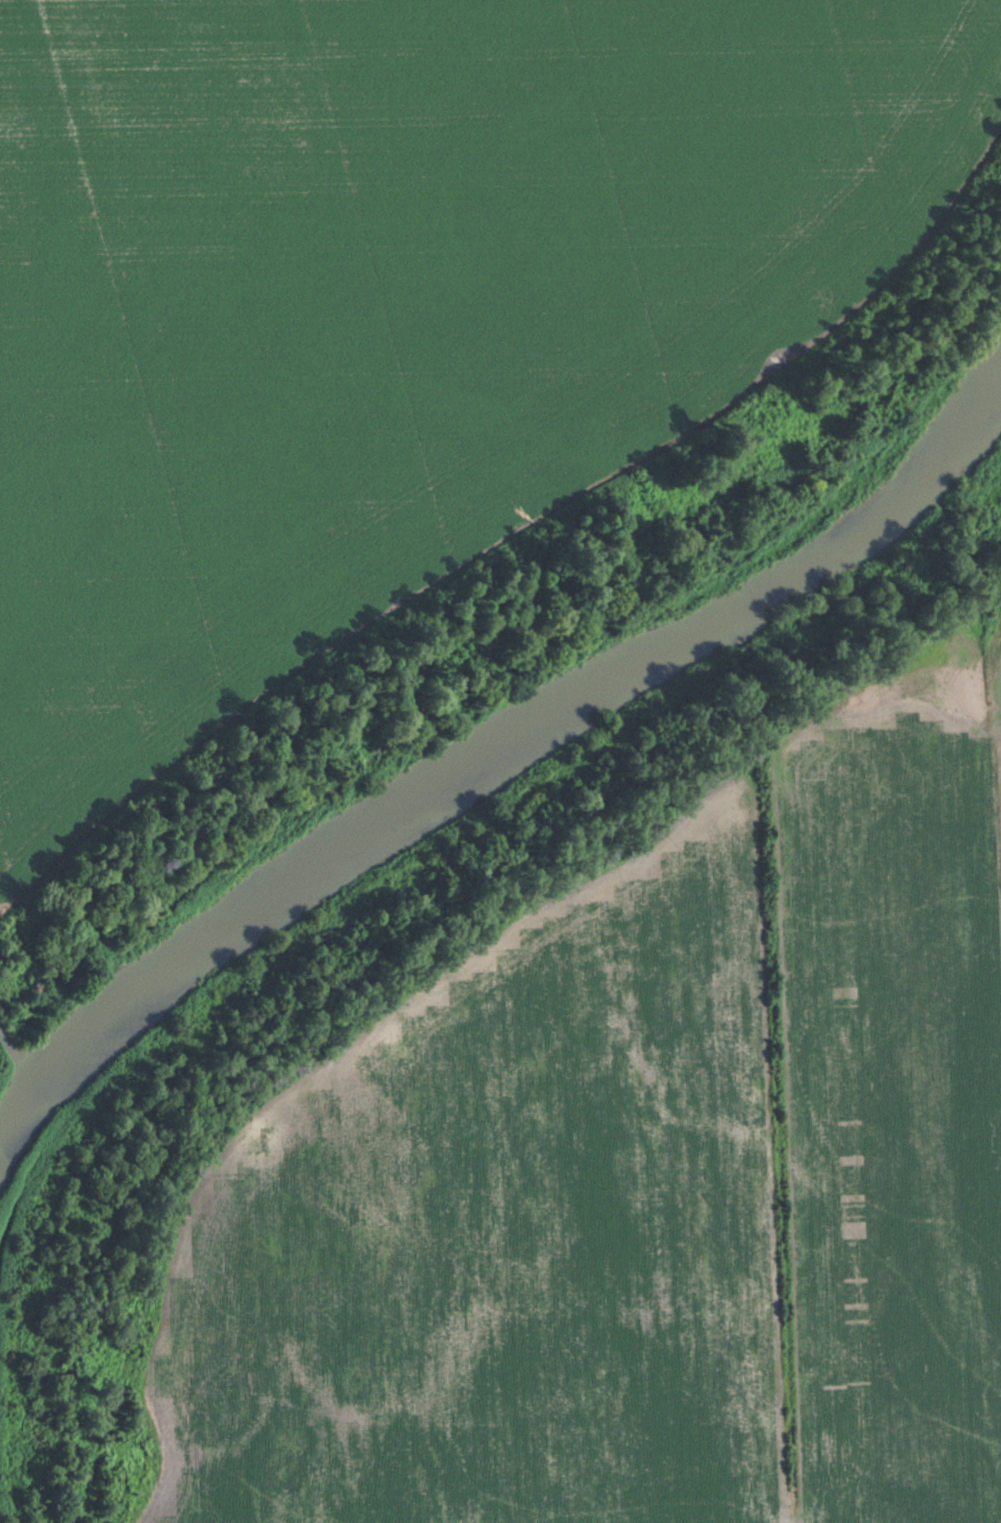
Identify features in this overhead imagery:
river: (502, 738)

